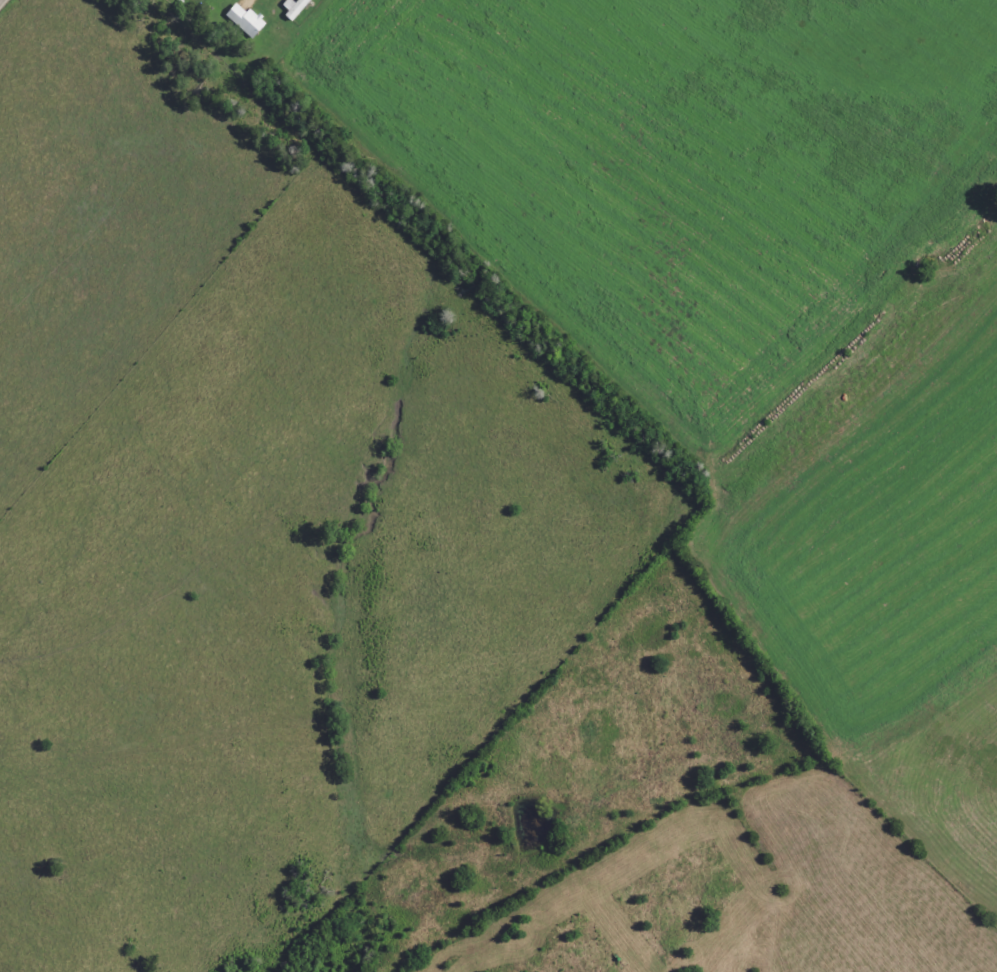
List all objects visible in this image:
building: (202, 0)
road: (1, 1)
building: (246, 22)

